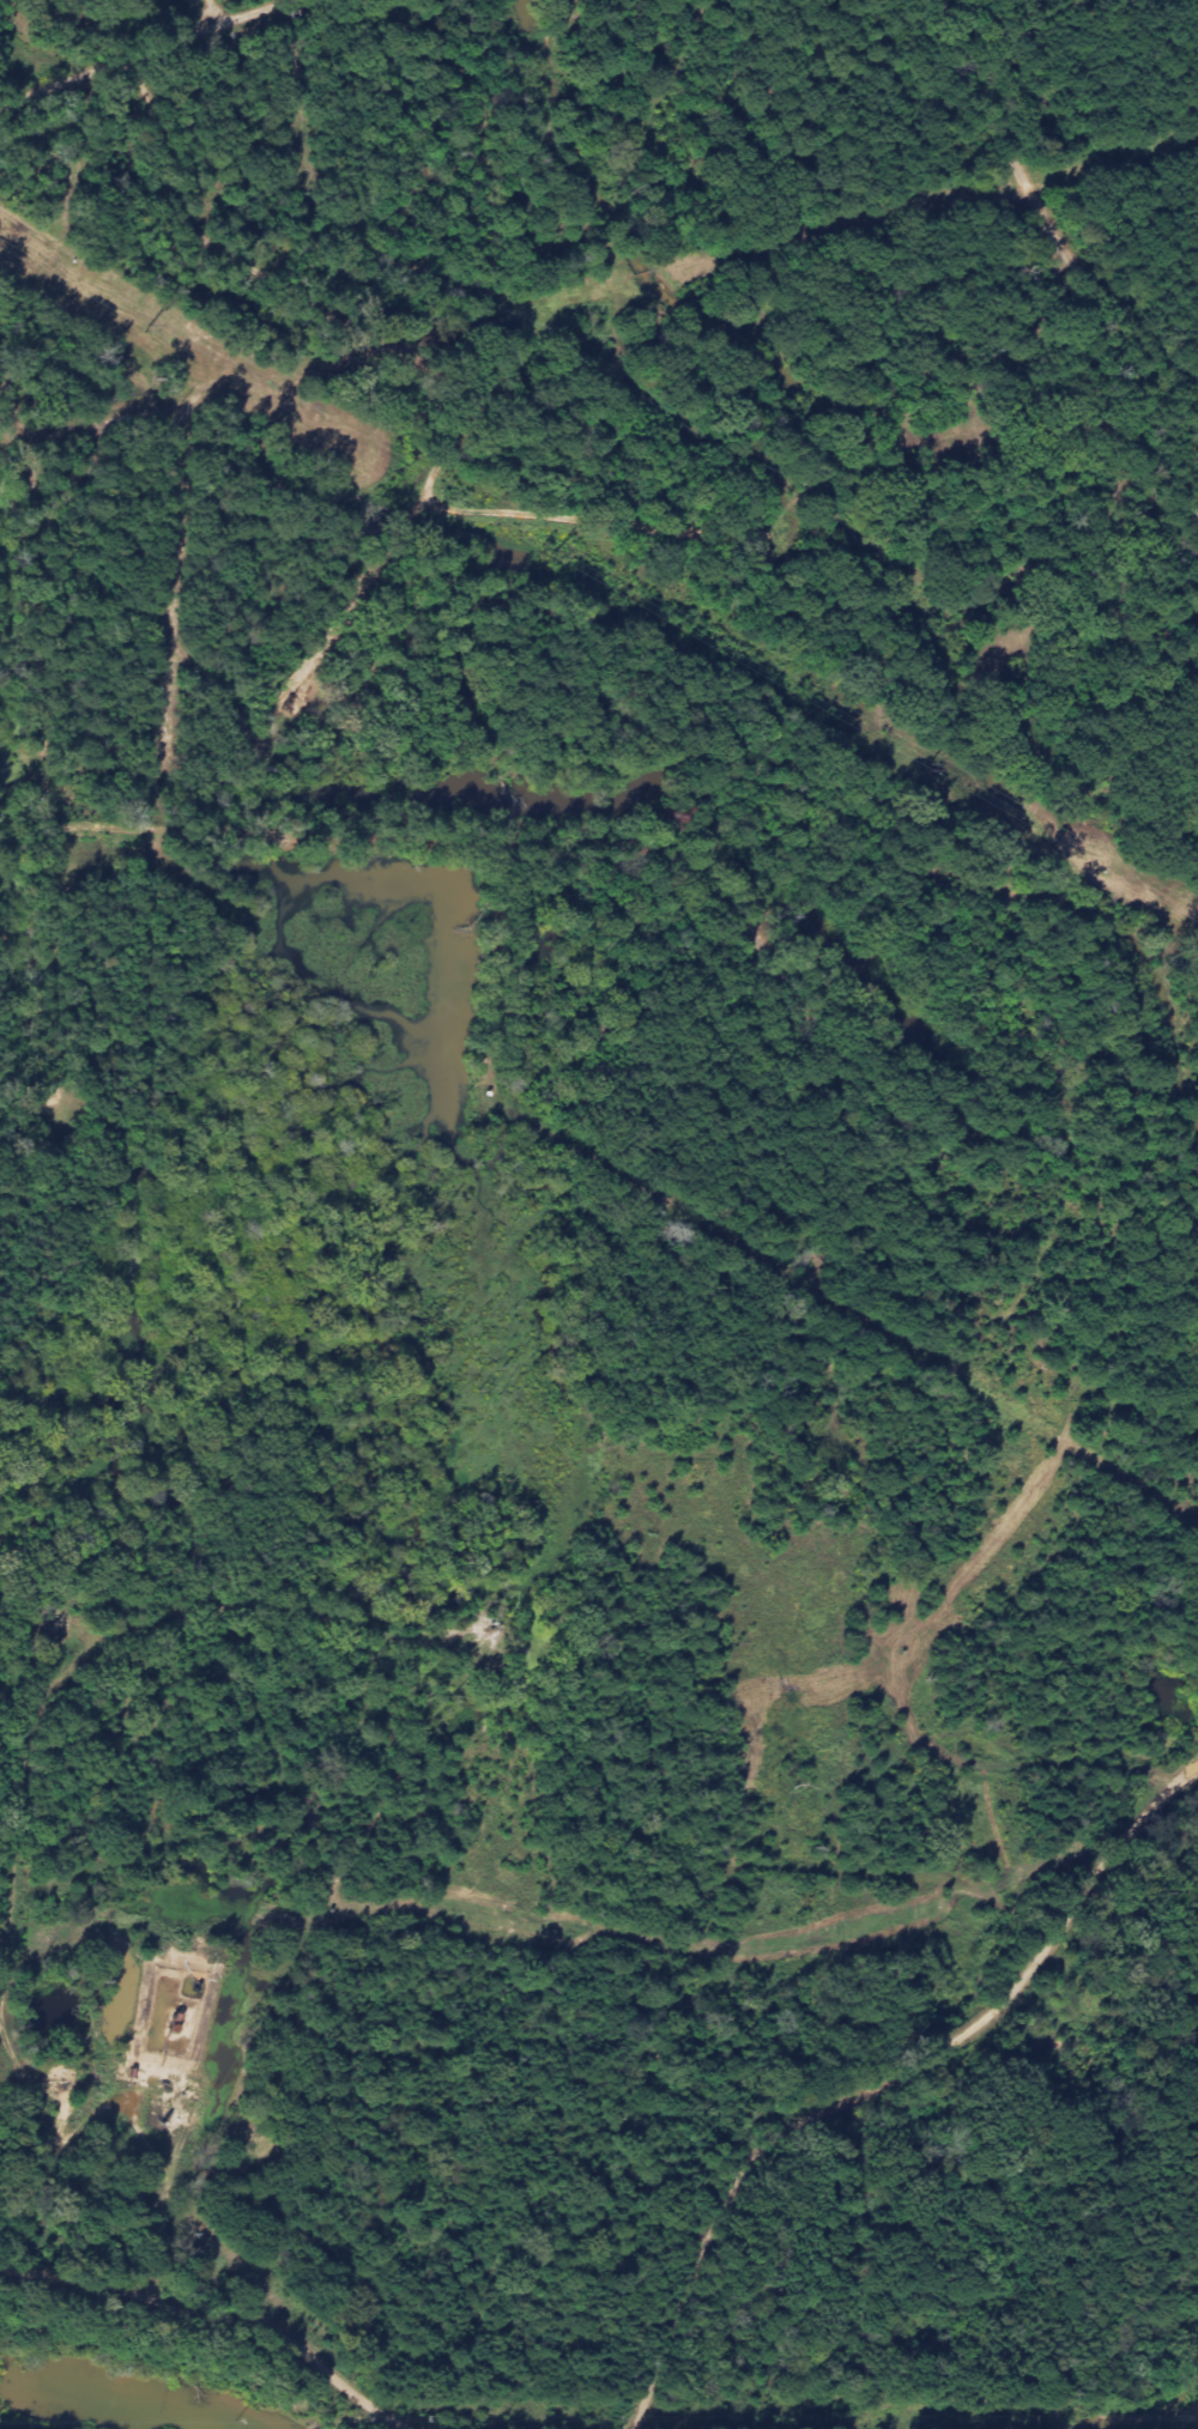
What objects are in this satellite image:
power tower: (161, 331)
power tower: (406, 471)
power tower: (925, 769)

